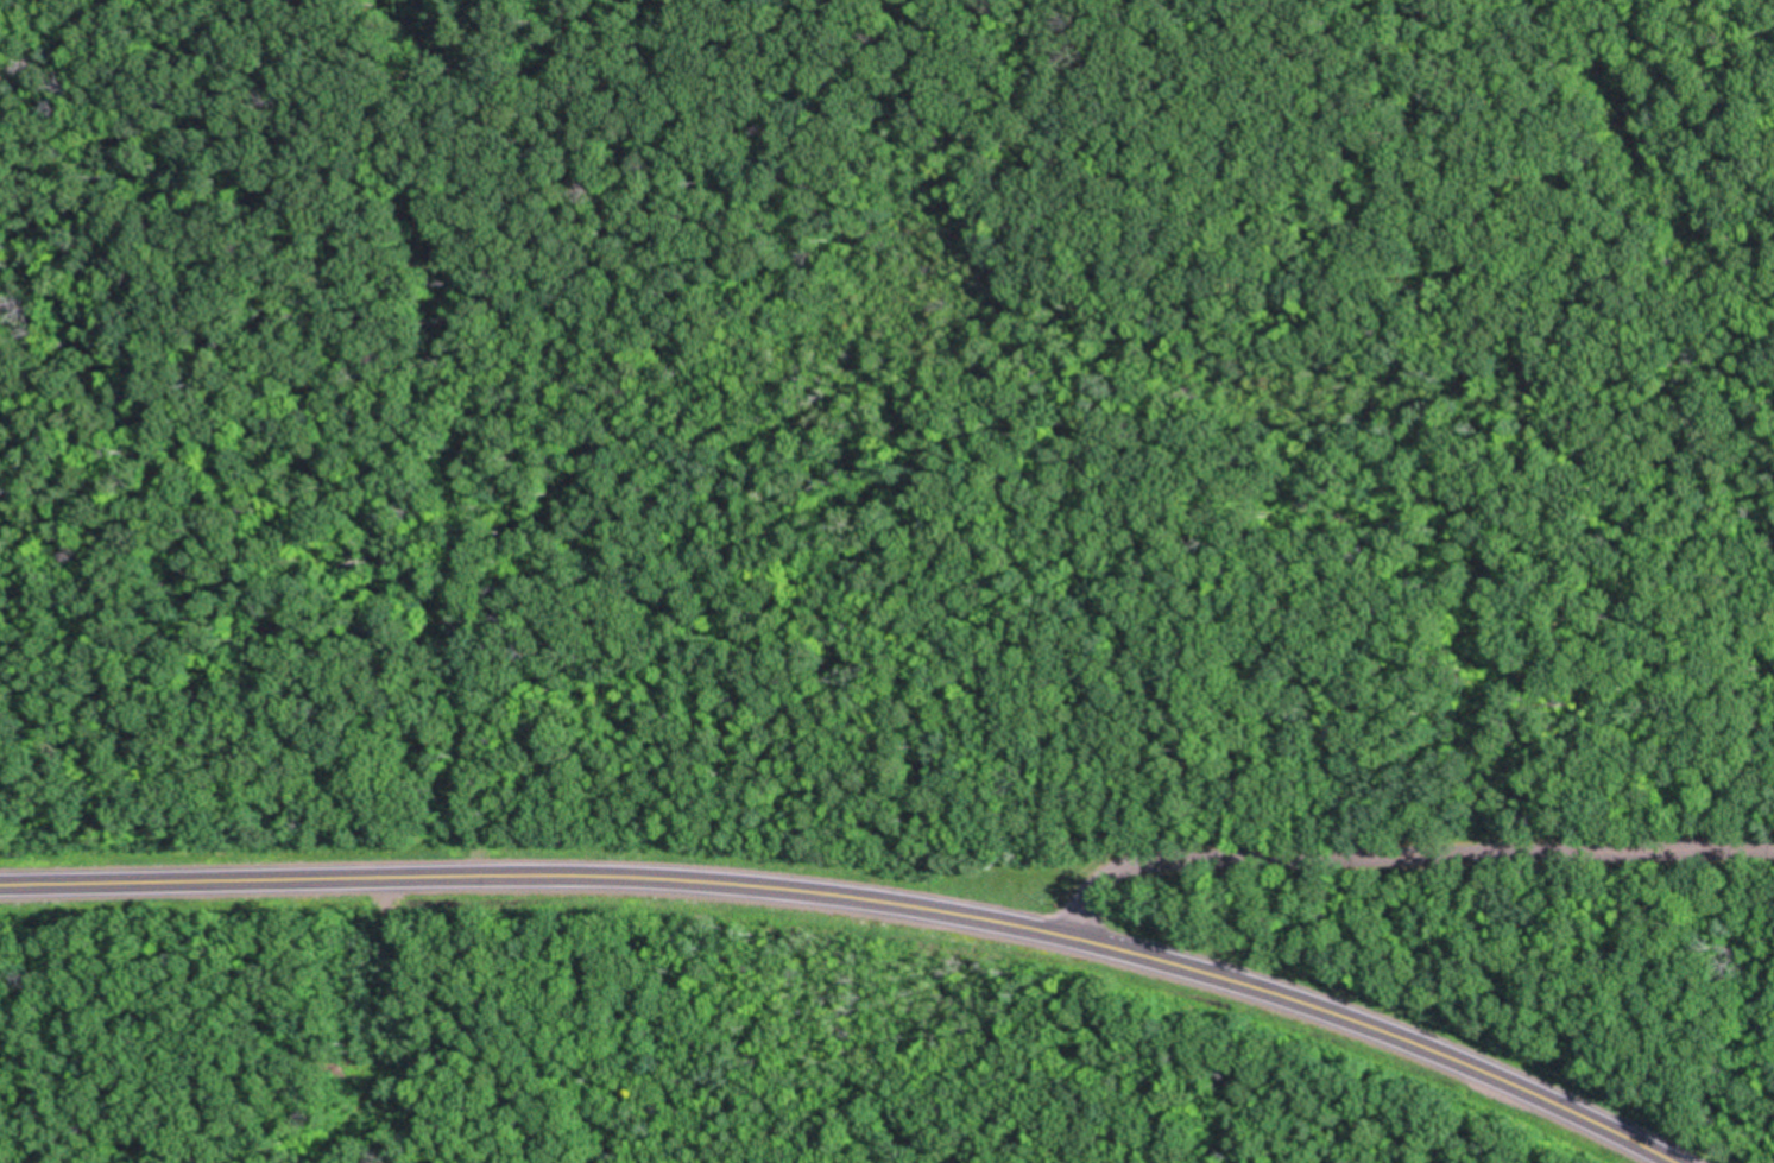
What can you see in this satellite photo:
road: (1402, 854)
road: (864, 895)

